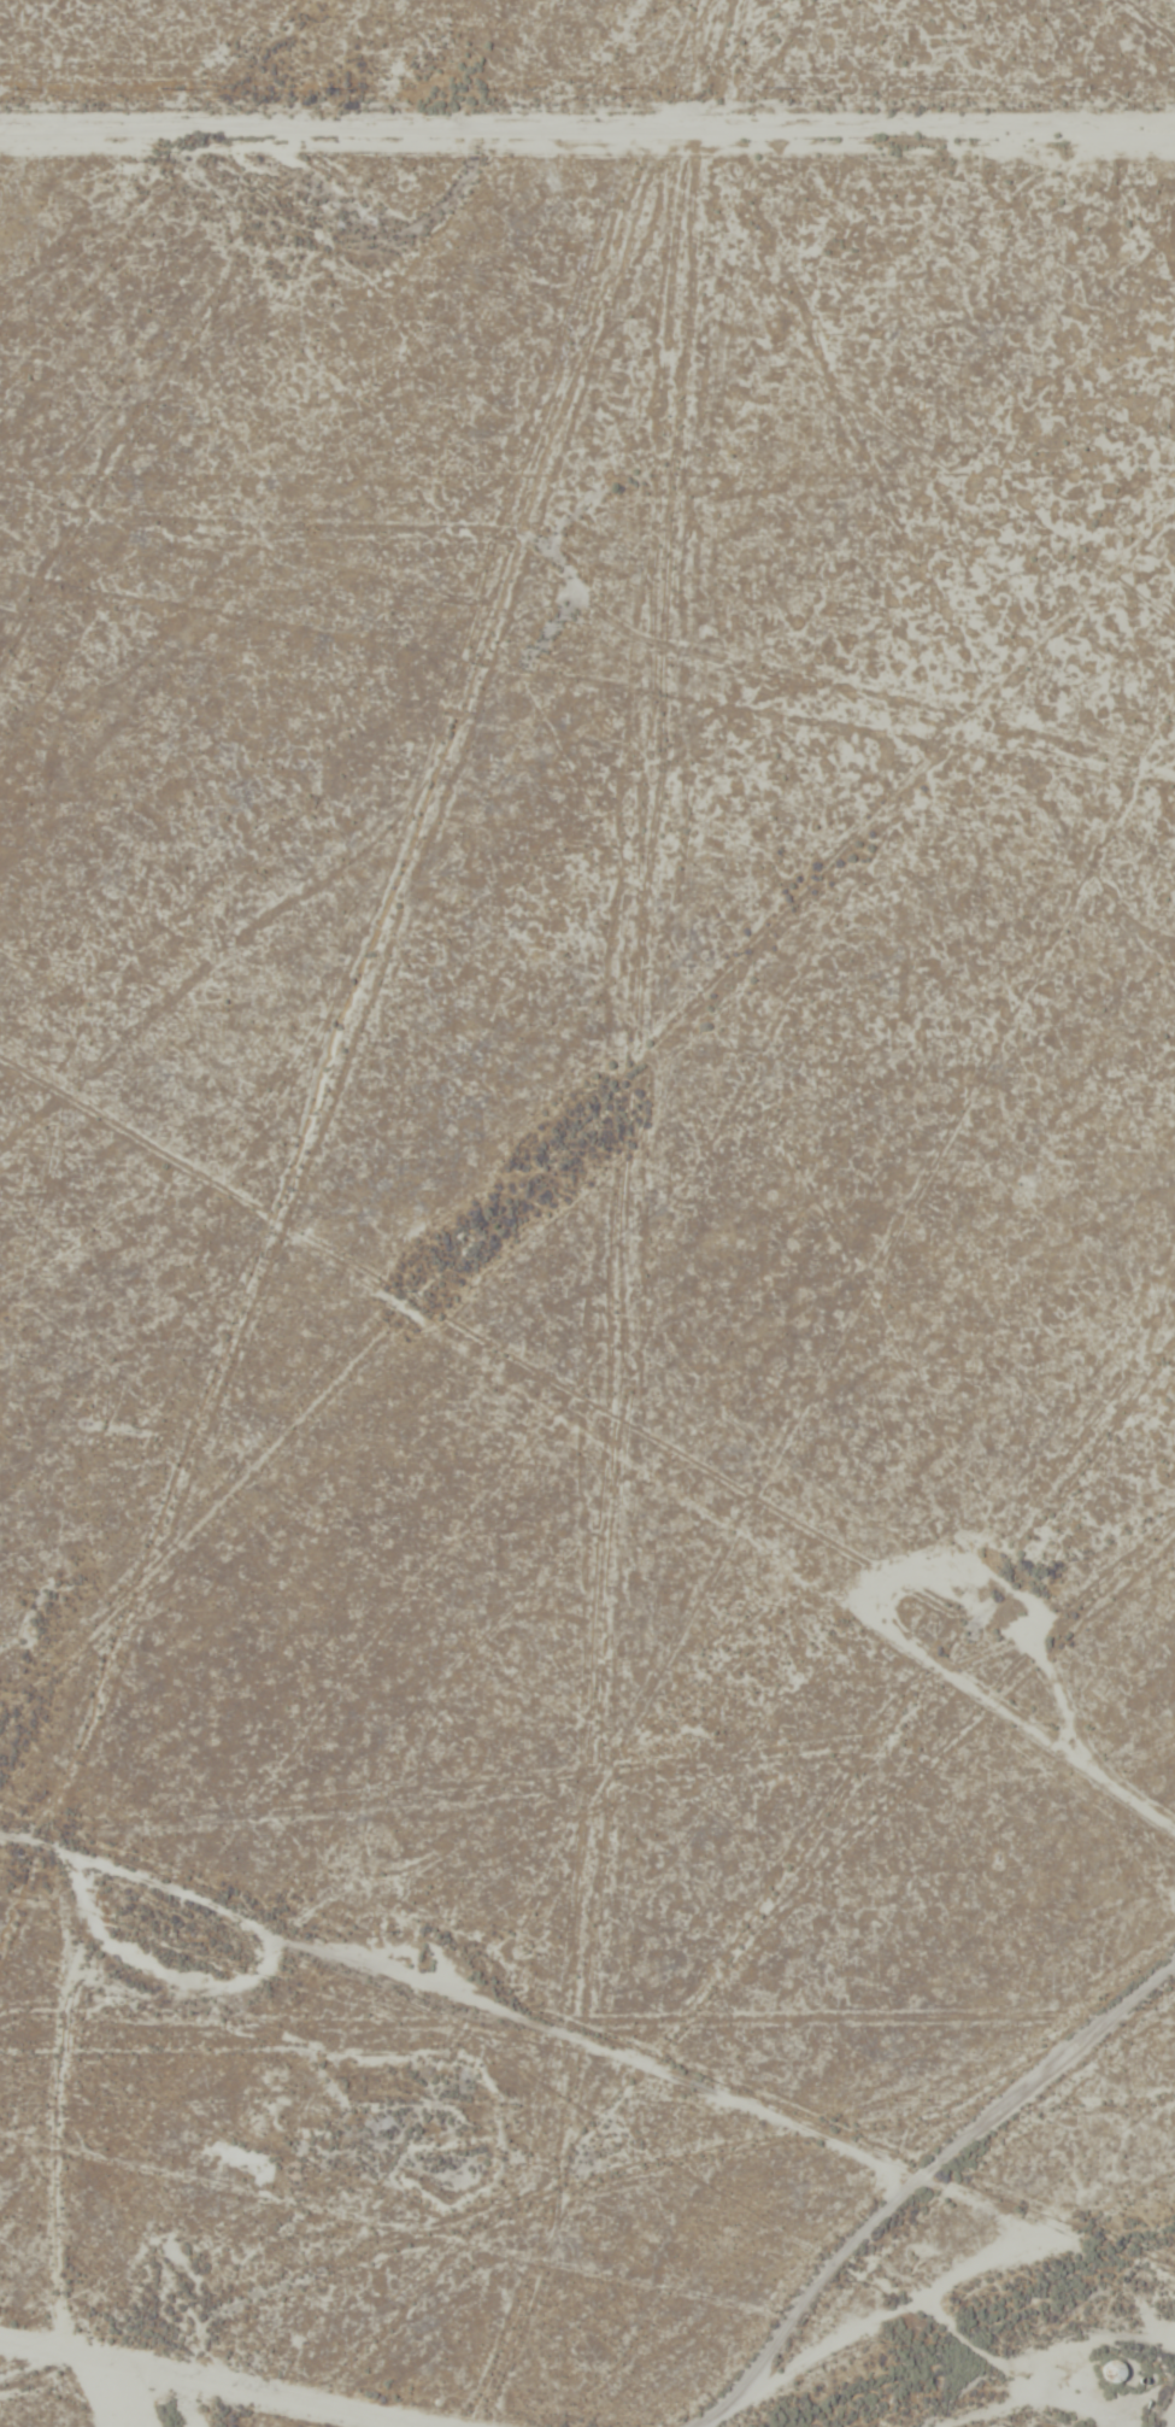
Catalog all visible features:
road: (929, 2198)
building: (1112, 2373)

